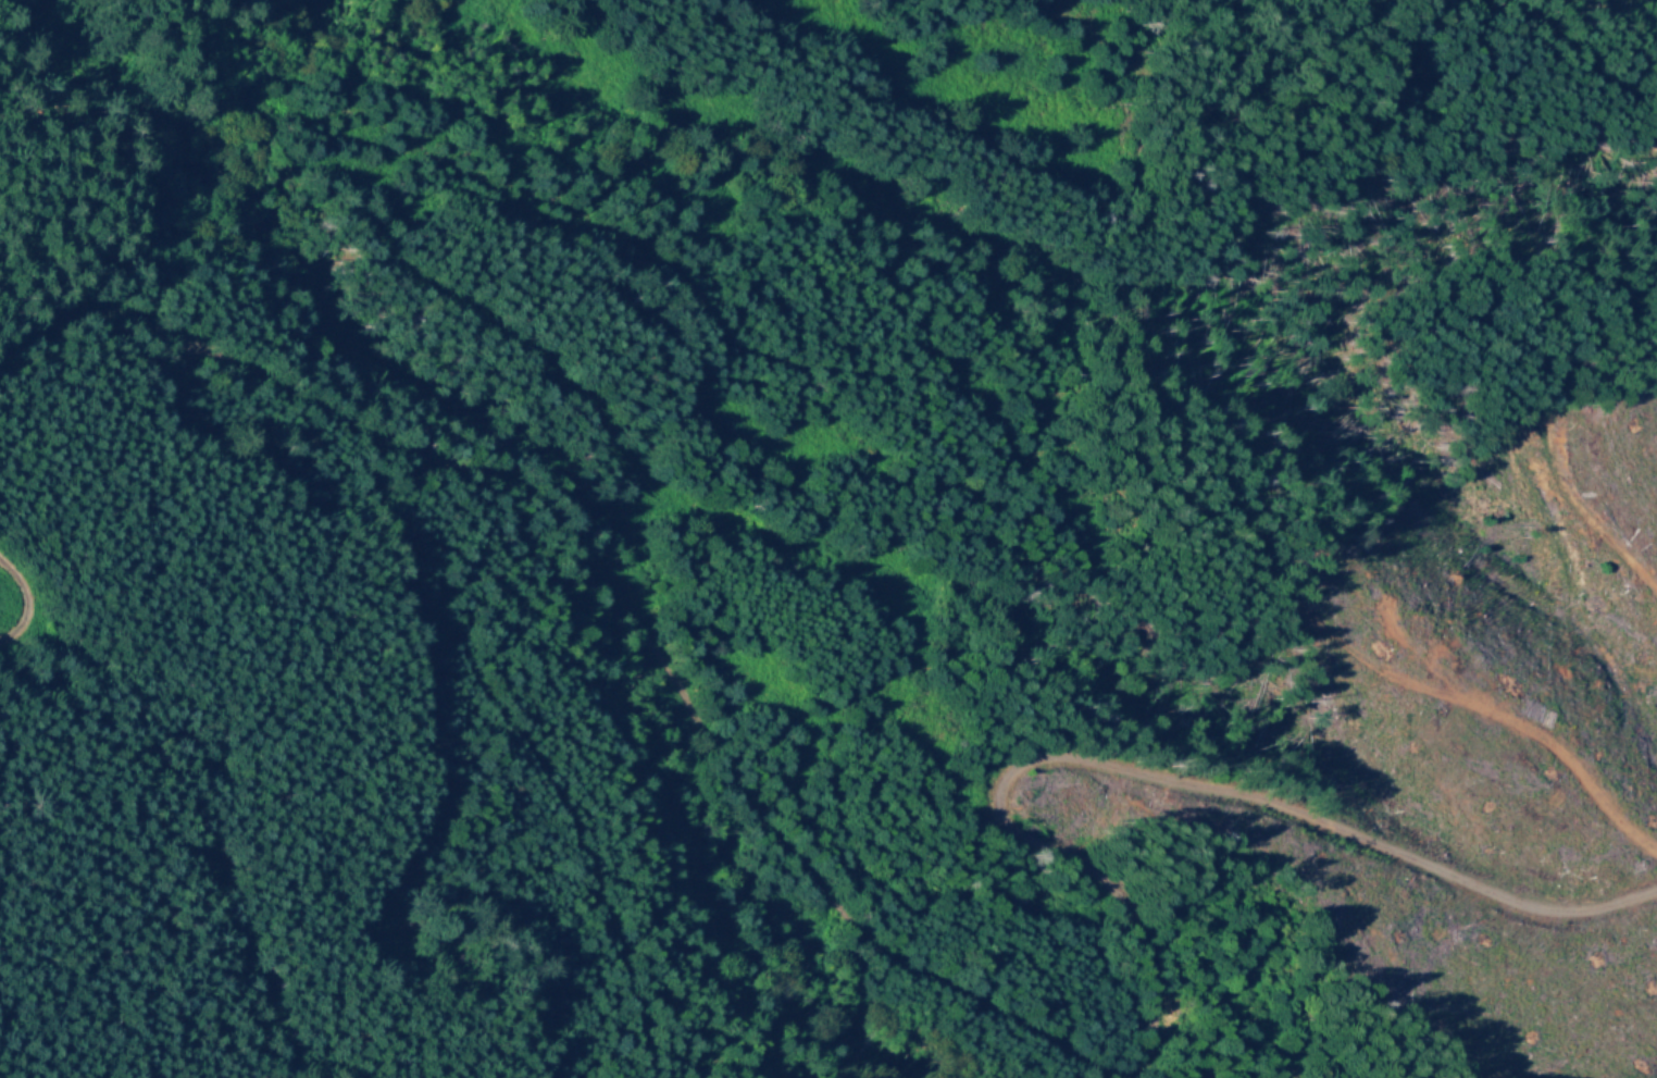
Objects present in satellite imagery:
road: (792, 953)

